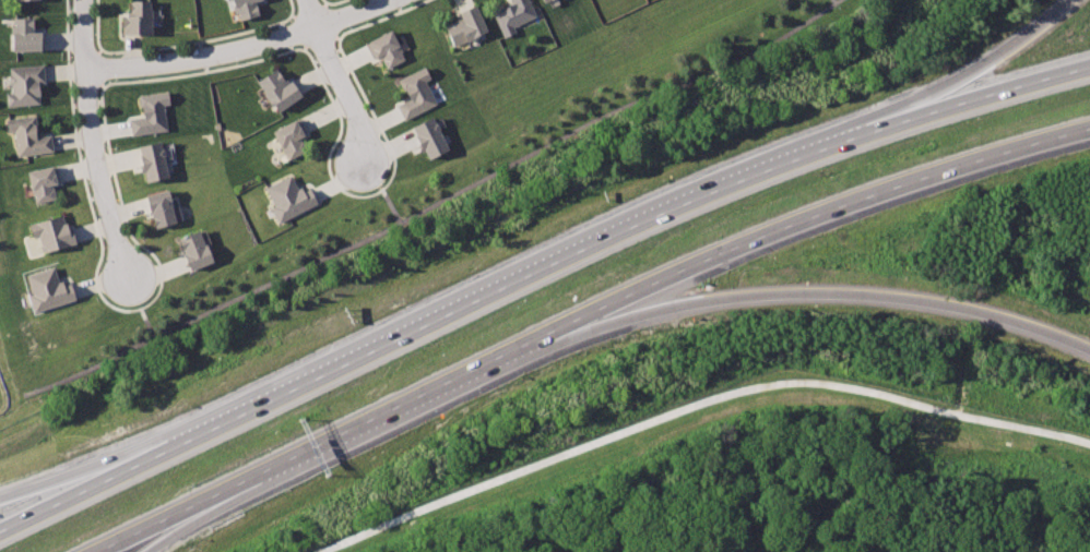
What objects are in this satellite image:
building: (549, 1)
road: (834, 1)
building: (248, 9)
building: (516, 15)
building: (140, 19)
building: (470, 26)
building: (27, 35)
road: (238, 49)
building: (389, 49)
road: (985, 64)
road: (336, 80)
building: (26, 85)
building: (282, 91)
building: (418, 94)
road: (993, 96)
building: (152, 112)
building: (29, 136)
building: (293, 139)
building: (434, 139)
road: (92, 140)
building: (156, 161)
building: (44, 184)
road: (381, 192)
building: (291, 199)
road: (436, 205)
building: (163, 208)
building: (54, 233)
road: (748, 235)
building: (198, 251)
road: (512, 279)
building: (48, 290)
road: (754, 297)
road: (140, 309)
road: (694, 403)
road: (309, 447)
road: (70, 482)
road: (70, 496)
road: (141, 527)
road: (166, 527)

